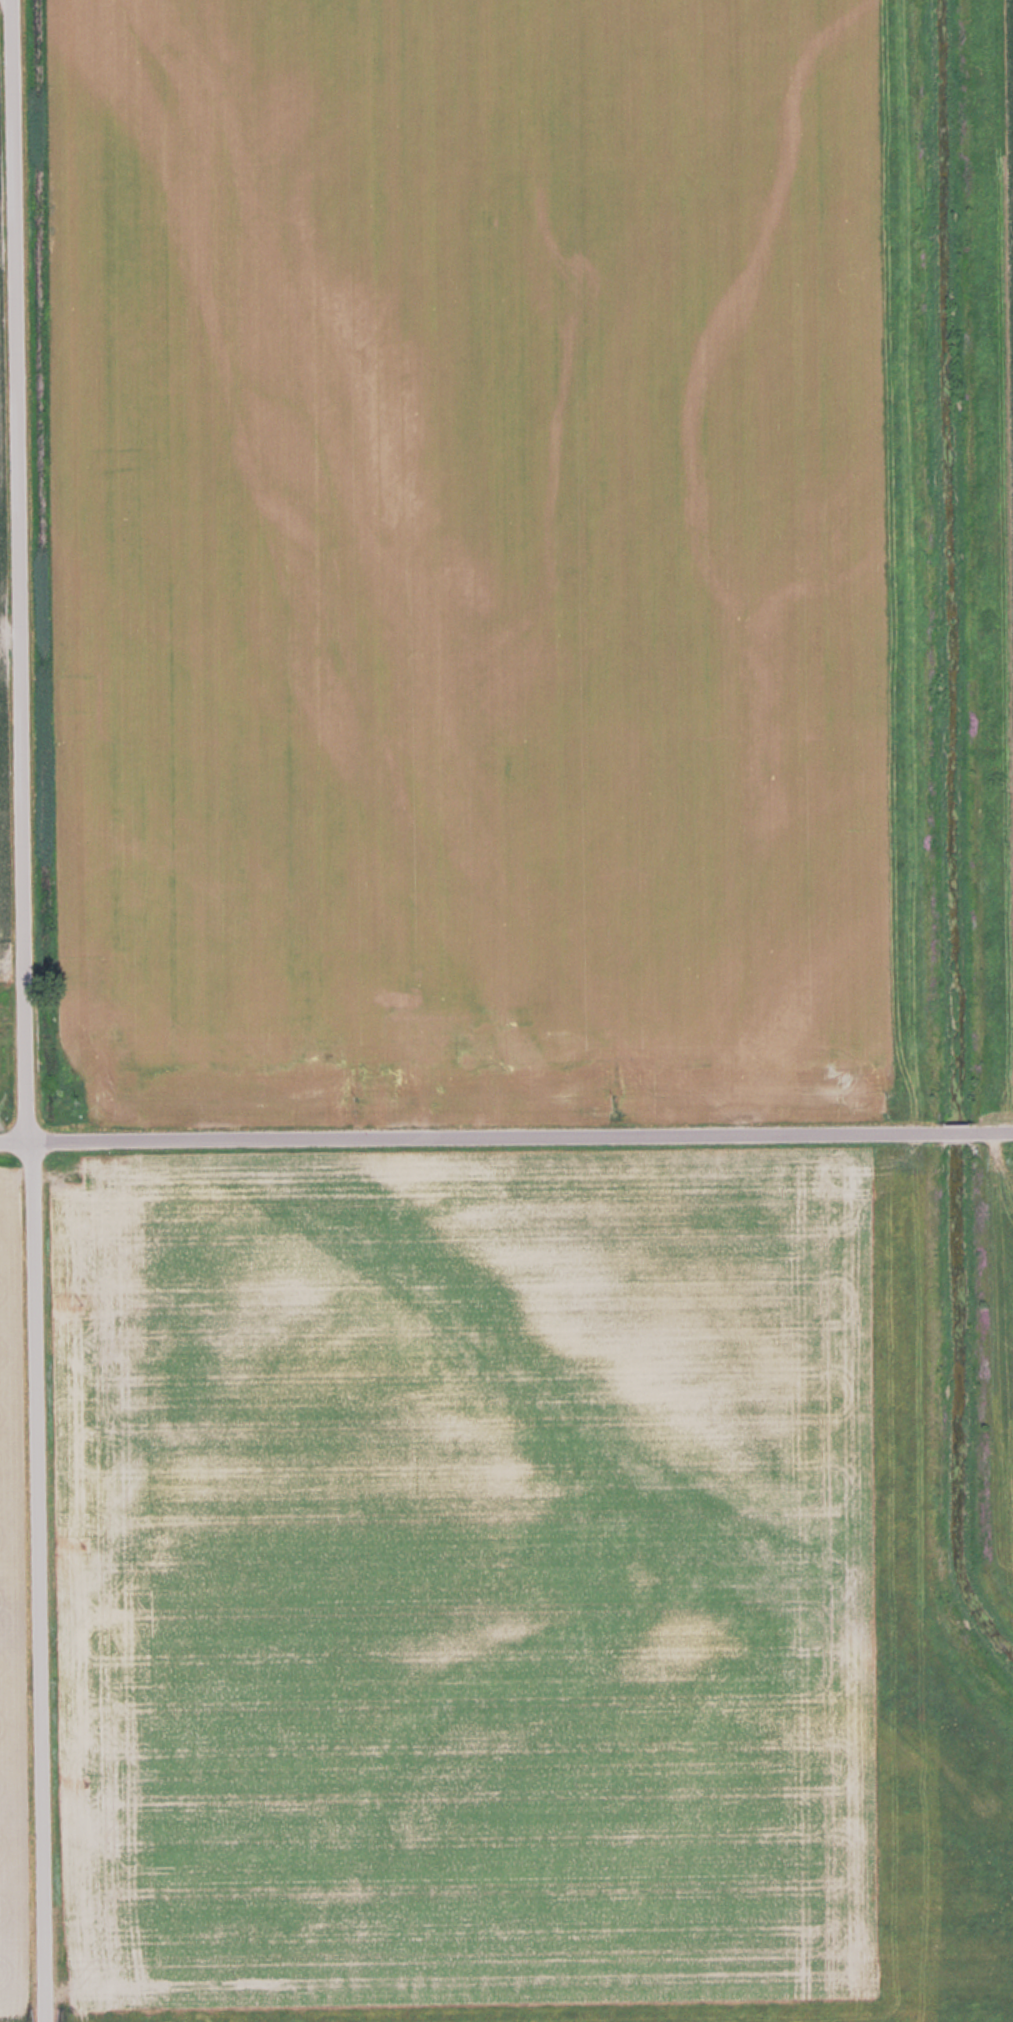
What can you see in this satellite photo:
road: (30, 1011)
road: (996, 1131)
road: (961, 1132)
road: (471, 1137)

